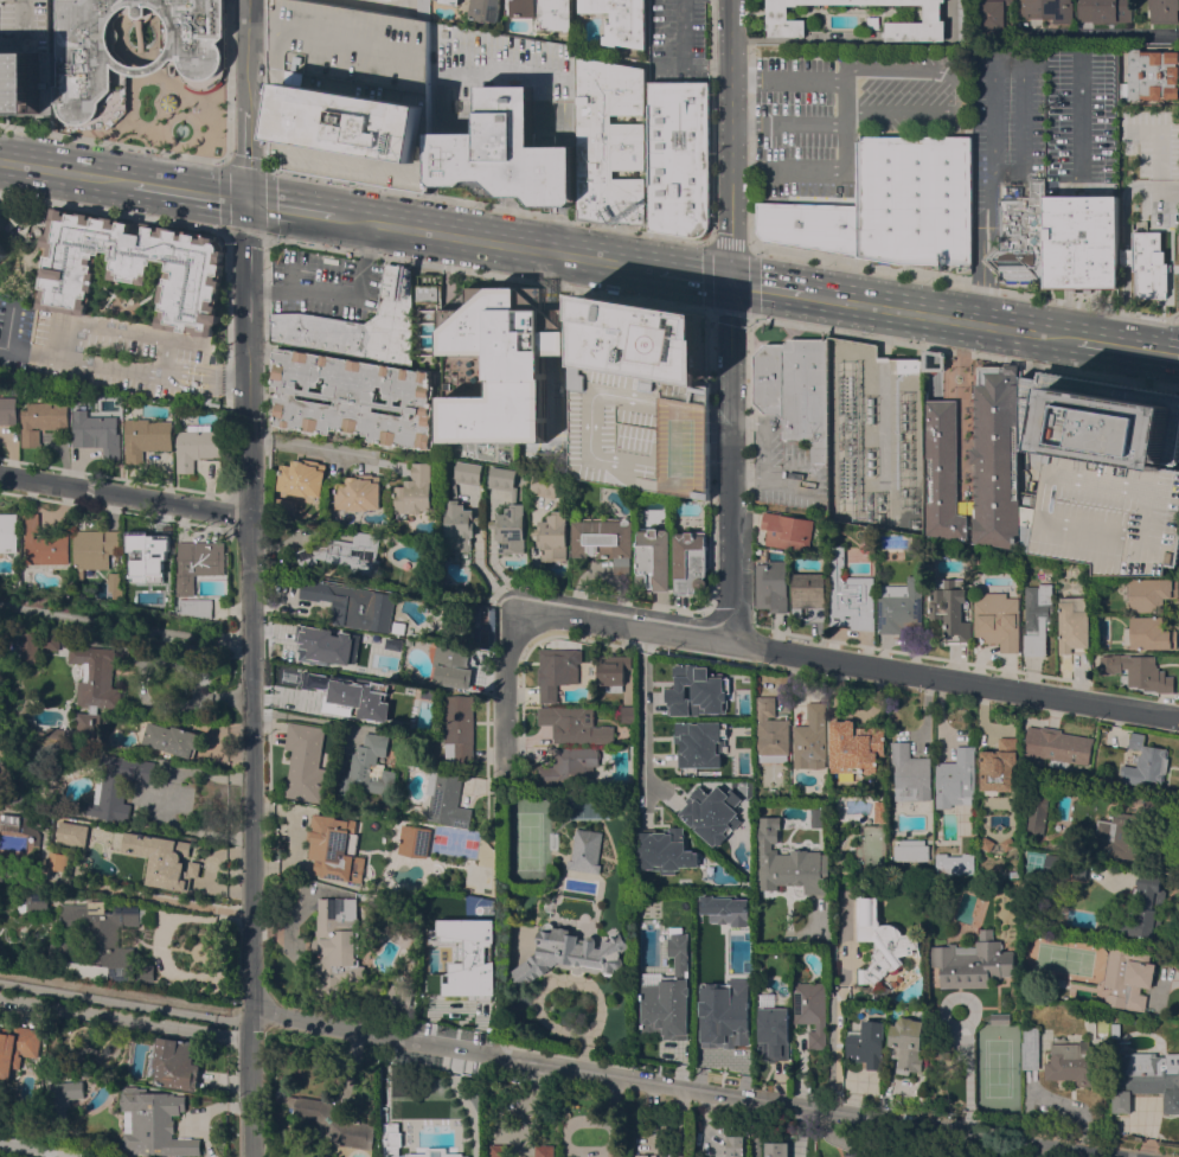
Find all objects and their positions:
building: (451, 1)
building: (421, 7)
building: (485, 9)
building: (1045, 9)
building: (1103, 11)
building: (1164, 11)
building: (544, 13)
building: (991, 14)
road: (134, 15)
road: (139, 15)
building: (784, 19)
building: (621, 20)
building: (873, 23)
road: (257, 31)
road: (1109, 32)
road: (156, 33)
road: (121, 34)
road: (796, 38)
building: (26, 56)
road: (248, 56)
building: (89, 63)
building: (146, 66)
building: (1153, 73)
road: (786, 78)
road: (228, 81)
road: (957, 89)
building: (348, 92)
road: (187, 95)
road: (132, 98)
road: (265, 100)
building: (167, 101)
building: (500, 113)
road: (988, 116)
road: (711, 120)
road: (1082, 122)
road: (809, 123)
fountain: (180, 129)
road: (113, 141)
building: (609, 141)
road: (749, 142)
road: (248, 155)
building: (677, 156)
road: (224, 161)
road: (808, 167)
road: (68, 171)
road: (1001, 174)
road: (1155, 187)
road: (191, 191)
traffic signals: (248, 200)
road: (487, 204)
building: (891, 205)
road: (290, 207)
road: (113, 211)
road: (1123, 216)
building: (1020, 237)
building: (1079, 238)
road: (1081, 241)
road: (498, 242)
building: (2, 253)
road: (1123, 256)
building: (1145, 261)
road: (975, 262)
building: (132, 267)
road: (488, 274)
road: (696, 275)
traffic signals: (730, 281)
road: (963, 283)
road: (768, 286)
road: (339, 295)
road: (226, 300)
road: (1122, 305)
road: (710, 311)
road: (1079, 314)
road: (941, 315)
building: (427, 320)
road: (730, 320)
building: (359, 325)
road: (8, 330)
road: (117, 334)
road: (265, 338)
building: (641, 338)
helipad: (662, 341)
road: (1100, 343)
road: (1149, 350)
road: (965, 352)
building: (502, 362)
building: (935, 362)
building: (909, 365)
road: (122, 367)
road: (205, 367)
road: (161, 372)
road: (204, 377)
road: (204, 389)
building: (795, 389)
road: (883, 395)
building: (353, 397)
road: (749, 397)
building: (8, 410)
building: (43, 418)
building: (637, 429)
parking garage: (637, 429)
building: (98, 434)
building: (146, 437)
power substation: (874, 437)
building: (197, 446)
road: (310, 446)
road: (761, 448)
building: (502, 455)
building: (997, 456)
road: (710, 464)
building: (942, 471)
building: (468, 473)
building: (1102, 473)
building: (302, 478)
building: (545, 485)
building: (416, 491)
building: (359, 493)
road: (124, 494)
building: (508, 513)
building: (461, 523)
building: (787, 530)
building: (8, 532)
building: (553, 536)
building: (605, 539)
building: (44, 545)
building: (94, 548)
building: (345, 552)
building: (653, 558)
building: (690, 561)
building: (198, 563)
building: (153, 570)
building: (114, 581)
building: (771, 586)
building: (118, 593)
building: (1149, 593)
building: (808, 596)
building: (110, 599)
building: (851, 600)
building: (352, 603)
building: (197, 606)
building: (899, 606)
building: (949, 607)
building: (1037, 619)
building: (997, 620)
road: (124, 624)
building: (1074, 625)
building: (1149, 634)
building: (50, 641)
building: (28, 647)
building: (353, 652)
road: (848, 661)
building: (450, 666)
building: (557, 670)
building: (613, 670)
building: (1138, 671)
road: (251, 678)
building: (94, 686)
road: (505, 691)
building: (694, 691)
building: (367, 701)
road: (643, 709)
building: (627, 715)
building: (575, 724)
building: (459, 729)
building: (771, 731)
building: (55, 733)
building: (810, 737)
building: (172, 739)
building: (698, 743)
building: (1057, 744)
building: (854, 746)
building: (305, 762)
building: (1145, 763)
building: (570, 766)
building: (369, 767)
building: (999, 767)
building: (910, 773)
building: (956, 778)
building: (116, 786)
building: (1138, 798)
building: (446, 799)
building: (1151, 804)
building: (879, 811)
building: (709, 812)
building: (1036, 813)
building: (816, 818)
building: (9, 822)
road: (502, 826)
building: (71, 833)
building: (1119, 835)
building: (415, 837)
building: (334, 848)
building: (585, 850)
building: (662, 850)
building: (911, 850)
building: (159, 857)
building: (56, 861)
building: (788, 862)
building: (953, 864)
road: (126, 894)
building: (33, 903)
building: (1143, 907)
building: (724, 908)
building: (96, 941)
building: (880, 942)
building: (473, 945)
building: (337, 946)
building: (569, 951)
building: (677, 952)
building: (970, 963)
building: (1128, 976)
building: (880, 991)
building: (398, 996)
building: (664, 1005)
building: (812, 1010)
building: (723, 1012)
road: (126, 1018)
building: (1000, 1018)
building: (1138, 1021)
building: (1115, 1030)
building: (773, 1034)
building: (866, 1043)
building: (906, 1044)
building: (17, 1047)
building: (1030, 1048)
road: (837, 1050)
building: (1078, 1062)
building: (173, 1063)
road: (968, 1072)
building: (1146, 1079)
road: (673, 1086)
building: (63, 1098)
building: (329, 1120)
building: (154, 1123)
road: (752, 1127)
building: (391, 1138)
road: (897, 1139)
building: (735, 1146)
road: (45, 1149)
building: (776, 1149)
building: (498, 1150)
building: (544, 1151)
building: (616, 1153)
road: (1053, 1153)
building: (858, 1155)
road: (1068, 1155)
building: (461, 1156)
building: (645, 1156)

